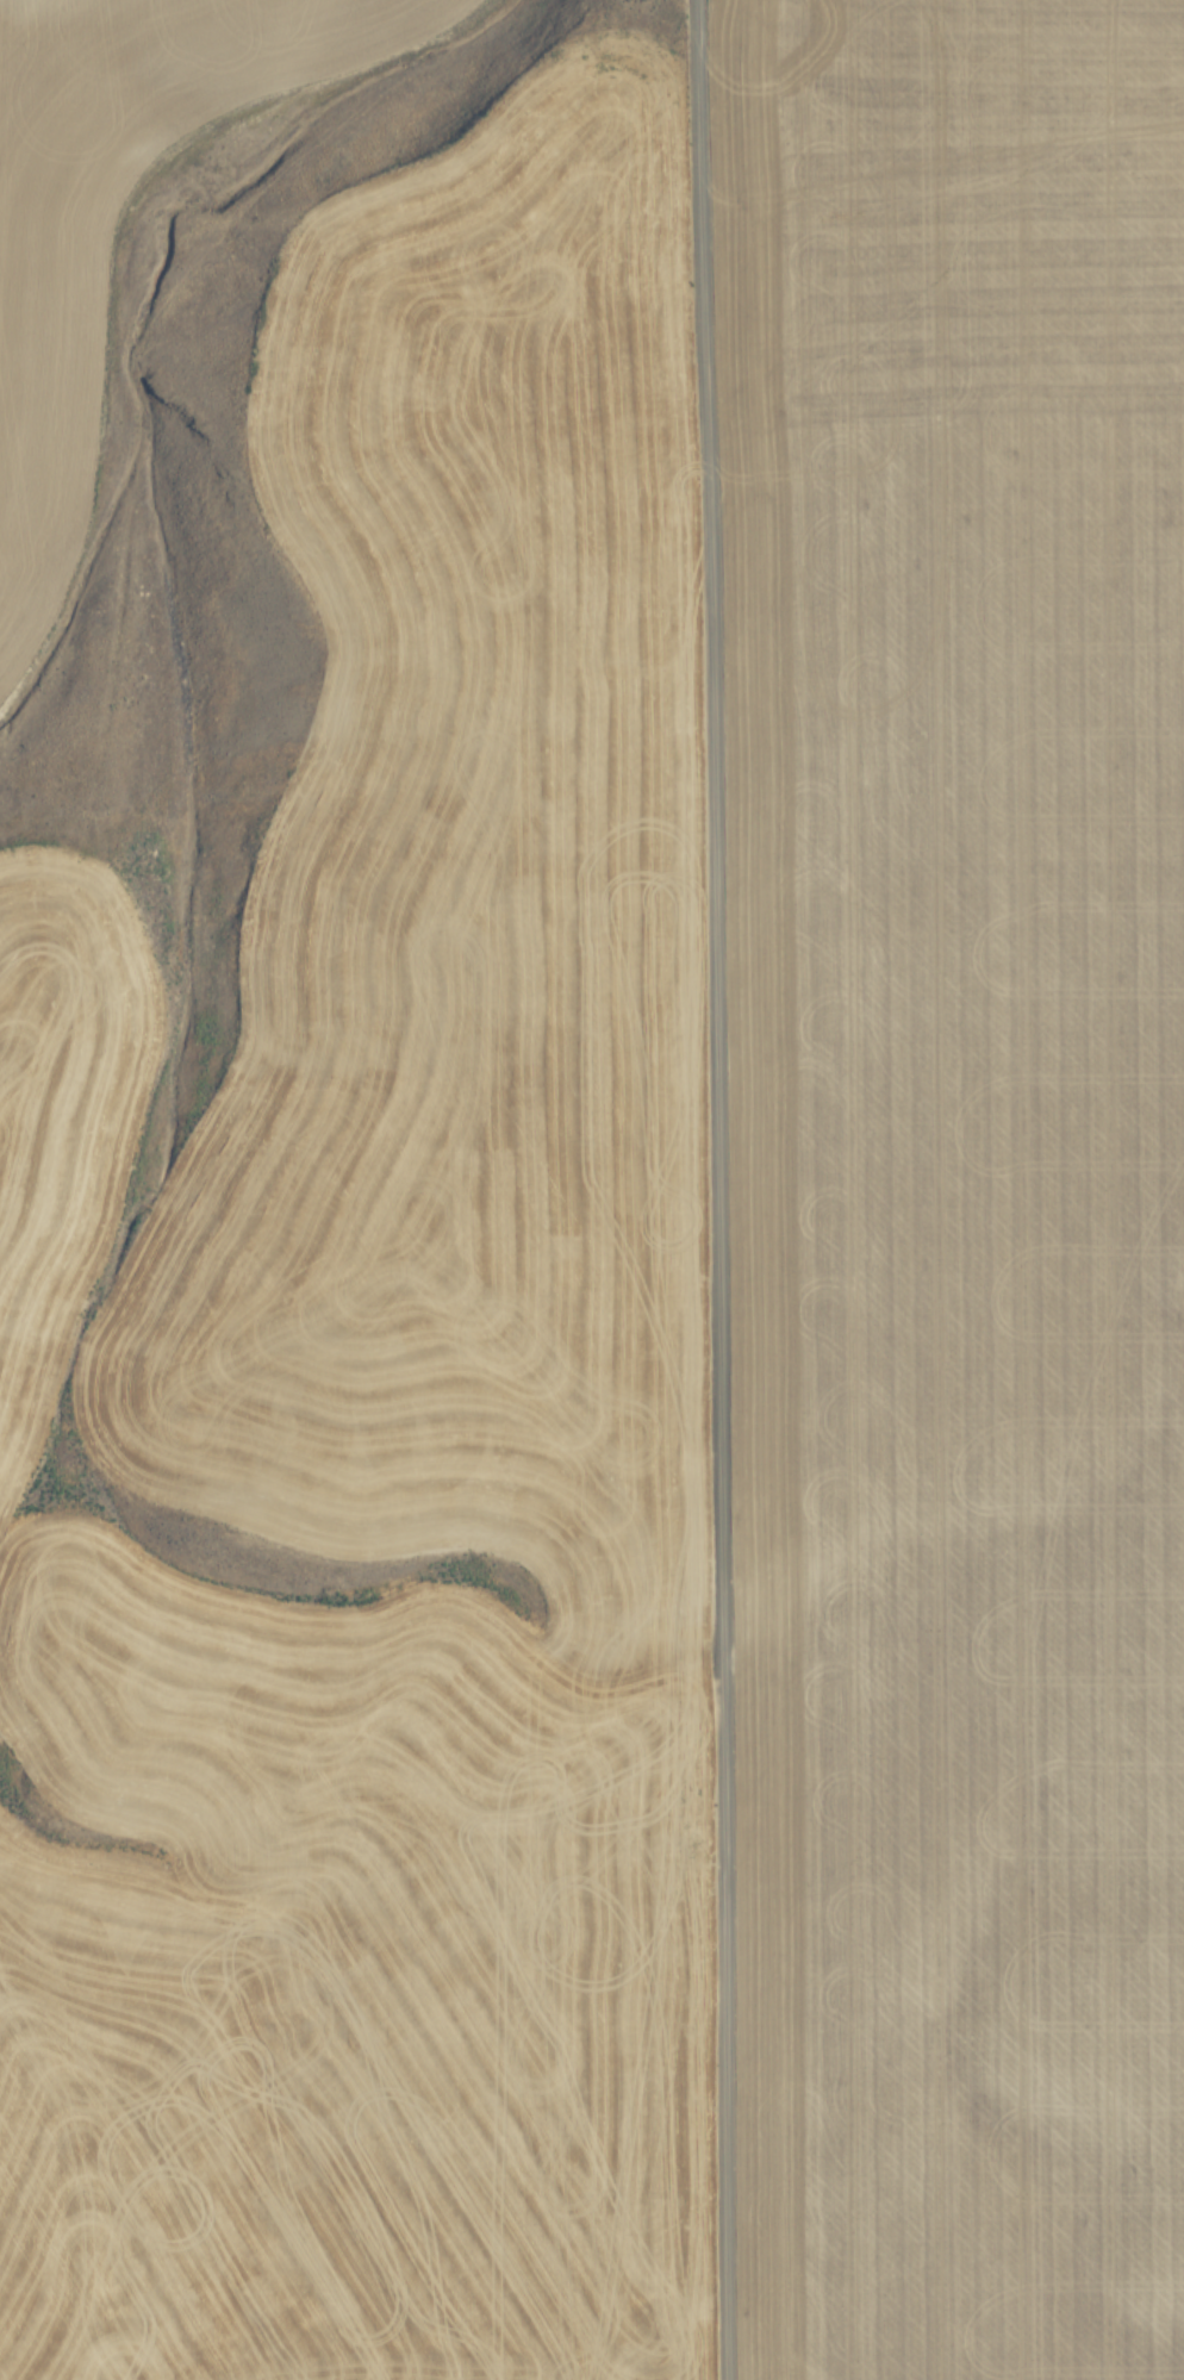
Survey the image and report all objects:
road: (711, 1189)

